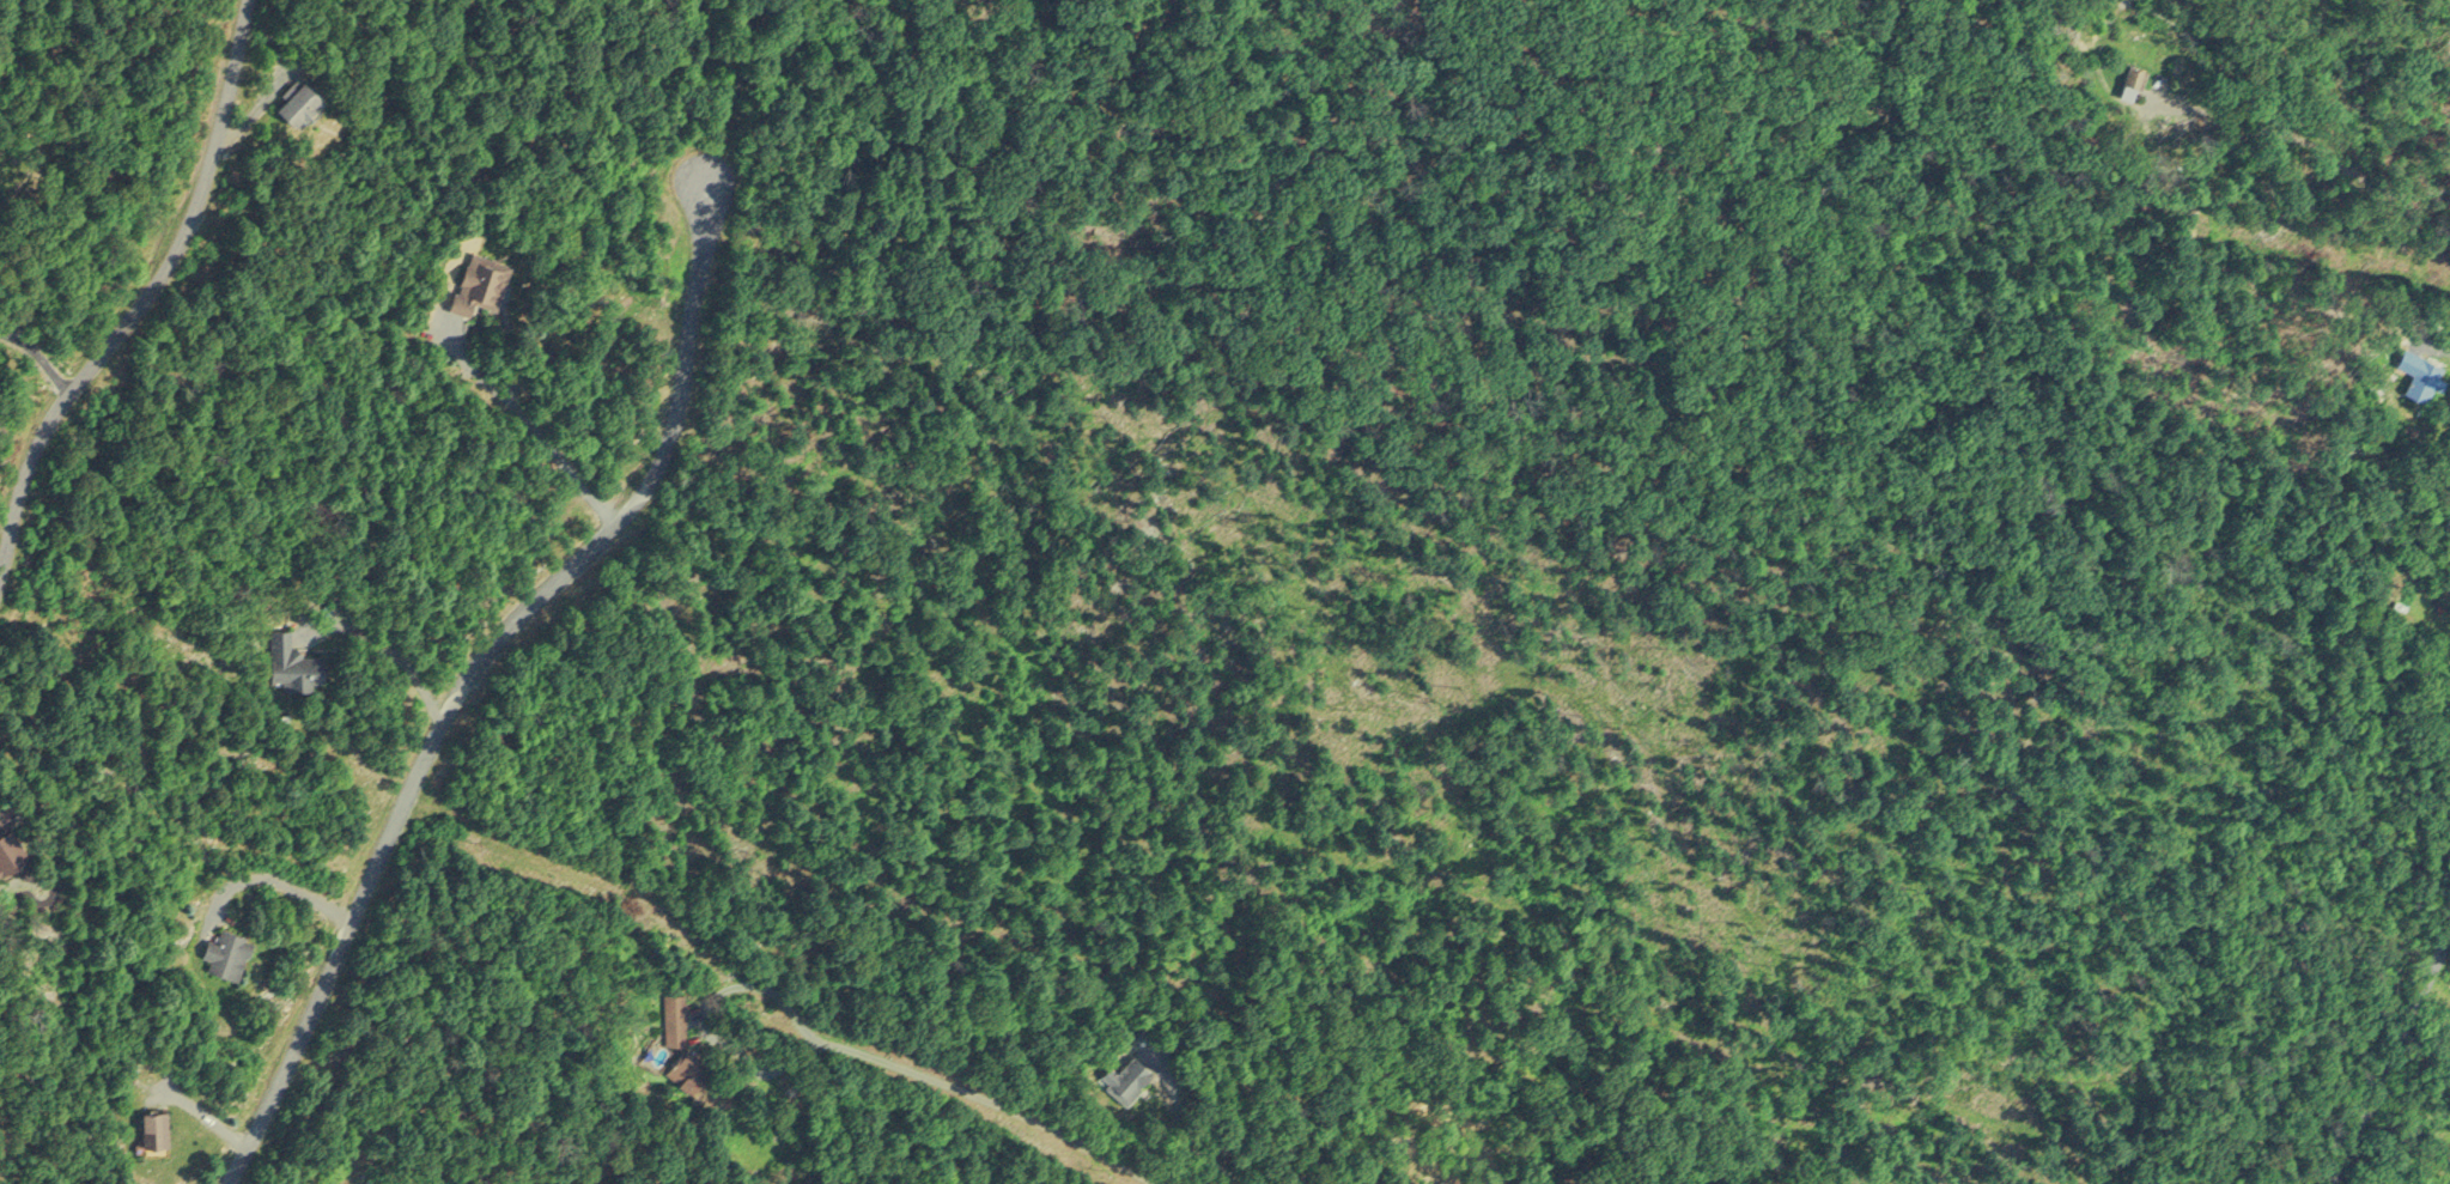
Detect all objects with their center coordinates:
building: (2133, 78)
building: (293, 98)
road: (248, 105)
building: (480, 278)
road: (134, 285)
road: (2433, 342)
road: (36, 353)
building: (2421, 370)
building: (291, 656)
road: (466, 670)
building: (5, 803)
building: (10, 845)
road: (584, 873)
road: (279, 884)
building: (225, 948)
building: (680, 1038)
road: (2388, 1058)
building: (1125, 1074)
road: (940, 1083)
building: (152, 1123)
road: (1212, 1160)

